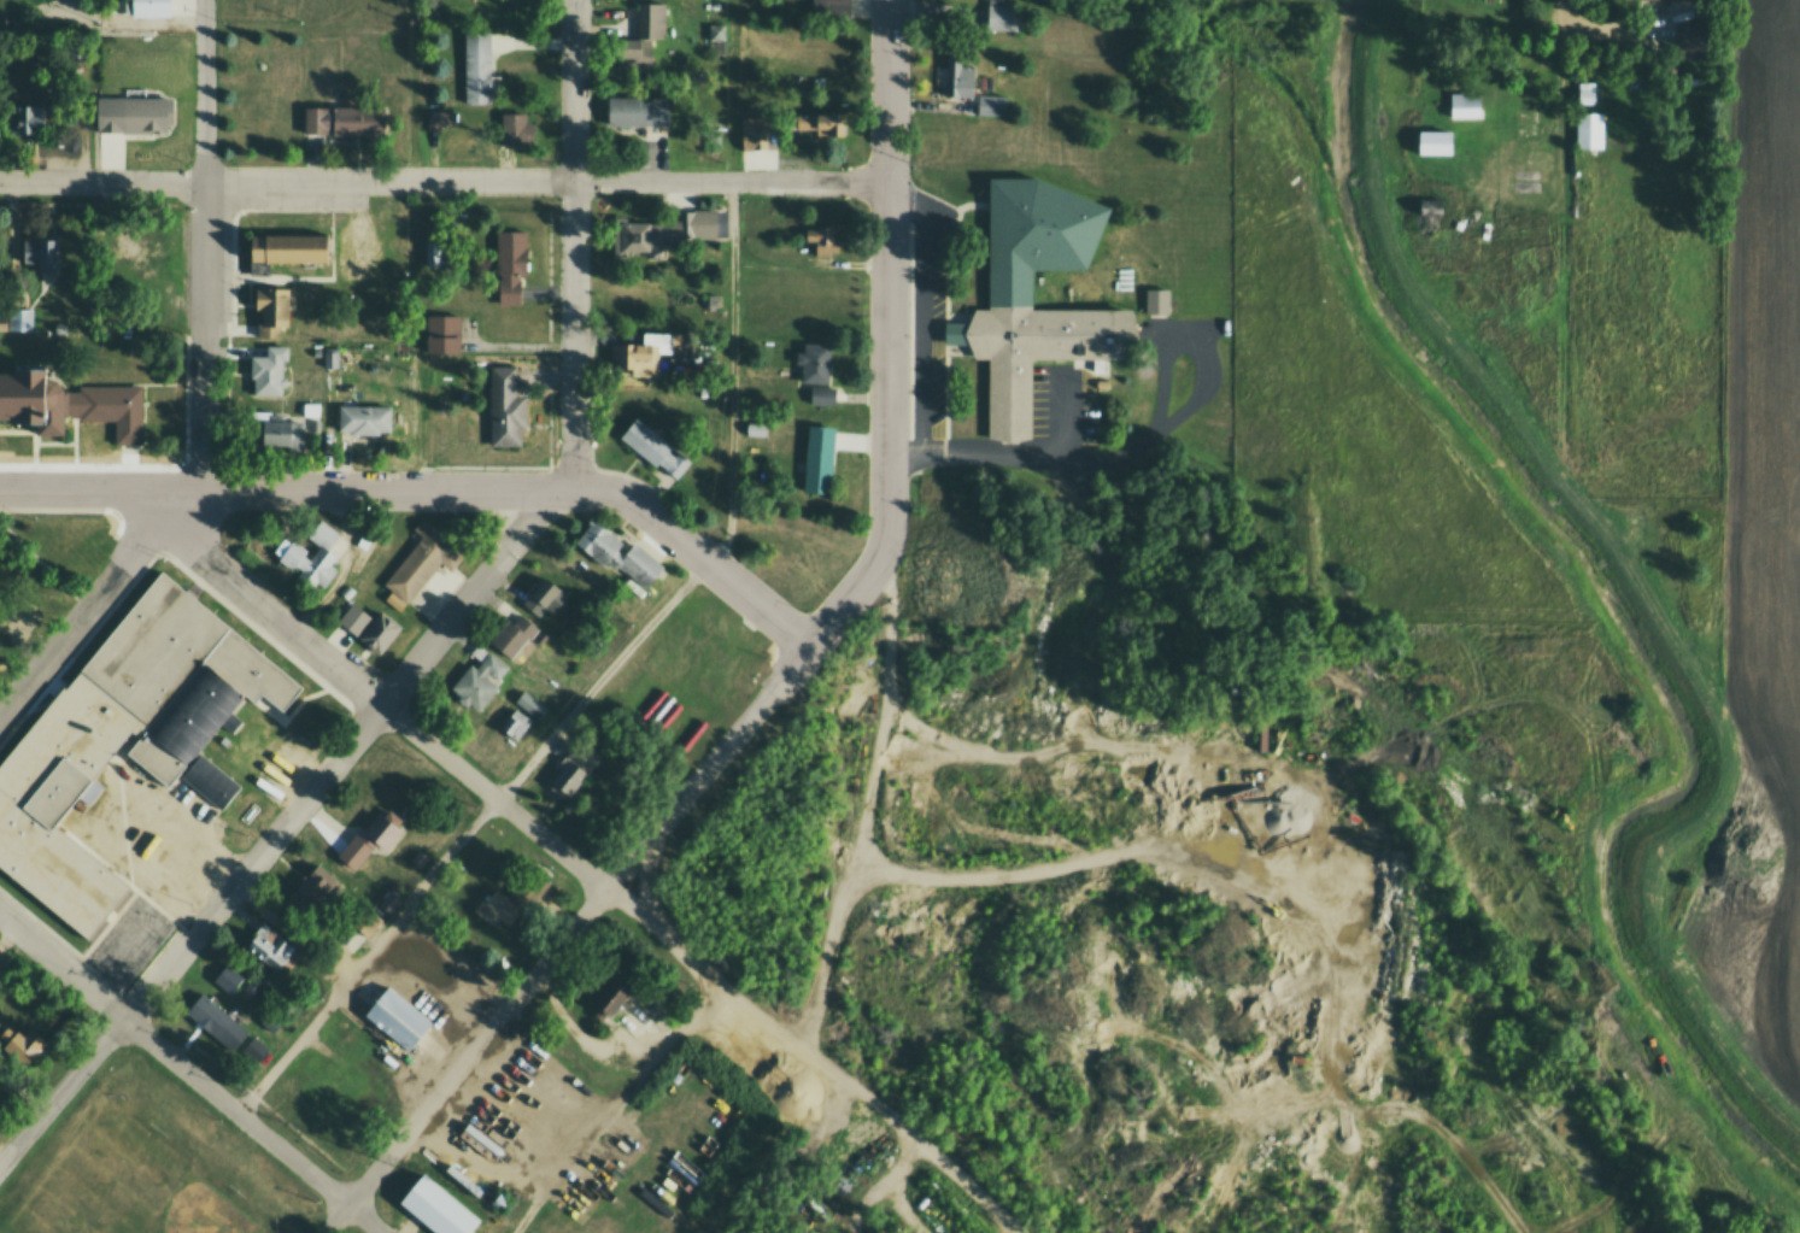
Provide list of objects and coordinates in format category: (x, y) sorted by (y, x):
building: (1488, 0)
building: (1695, 0)
building: (140, 8)
building: (829, 12)
building: (1001, 14)
building: (651, 20)
building: (716, 33)
building: (1690, 43)
building: (626, 57)
building: (477, 65)
building: (958, 77)
building: (992, 104)
building: (1466, 105)
building: (637, 110)
building: (133, 112)
building: (25, 117)
building: (338, 119)
building: (438, 119)
building: (822, 122)
building: (514, 128)
building: (1589, 130)
building: (754, 133)
building: (1433, 141)
road: (444, 178)
road: (234, 211)
road: (356, 216)
building: (1430, 218)
building: (694, 223)
building: (638, 235)
building: (822, 239)
road: (204, 246)
building: (287, 246)
building: (433, 252)
building: (39, 253)
building: (509, 263)
road: (316, 277)
building: (1155, 299)
building: (270, 310)
road: (920, 312)
road: (945, 315)
building: (1050, 318)
building: (17, 321)
road: (908, 321)
road: (952, 331)
building: (441, 334)
road: (887, 334)
road: (186, 336)
building: (645, 348)
building: (332, 358)
building: (269, 368)
building: (815, 370)
road: (590, 391)
road: (547, 399)
building: (69, 403)
building: (504, 407)
road: (227, 418)
building: (363, 419)
building: (755, 428)
building: (280, 431)
road: (35, 441)
road: (75, 441)
building: (653, 446)
road: (904, 454)
road: (35, 456)
road: (1034, 457)
building: (815, 458)
road: (135, 466)
road: (604, 469)
road: (278, 488)
road: (118, 526)
road: (691, 548)
building: (616, 553)
building: (312, 556)
building: (422, 558)
road: (43, 563)
road: (133, 580)
building: (544, 597)
road: (93, 599)
building: (369, 626)
building: (512, 633)
road: (262, 635)
road: (436, 636)
road: (596, 686)
building: (474, 687)
road: (375, 699)
building: (530, 705)
road: (289, 712)
building: (514, 724)
building: (119, 734)
building: (574, 771)
building: (209, 777)
road: (1267, 810)
building: (376, 833)
road: (124, 849)
building: (451, 875)
road: (850, 875)
road: (1030, 879)
building: (312, 885)
building: (500, 902)
road: (159, 909)
building: (365, 920)
road: (8, 935)
road: (564, 937)
park: (129, 940)
building: (268, 945)
road: (74, 950)
building: (229, 976)
building: (438, 993)
building: (606, 997)
building: (395, 1016)
building: (213, 1018)
building: (269, 1018)
building: (24, 1044)
building: (253, 1046)
road: (815, 1056)
road: (189, 1073)
road: (240, 1082)
building: (318, 1093)
building: (1, 1096)
road: (614, 1108)
building: (456, 1163)
park: (123, 1180)
park: (156, 1186)
building: (435, 1206)

